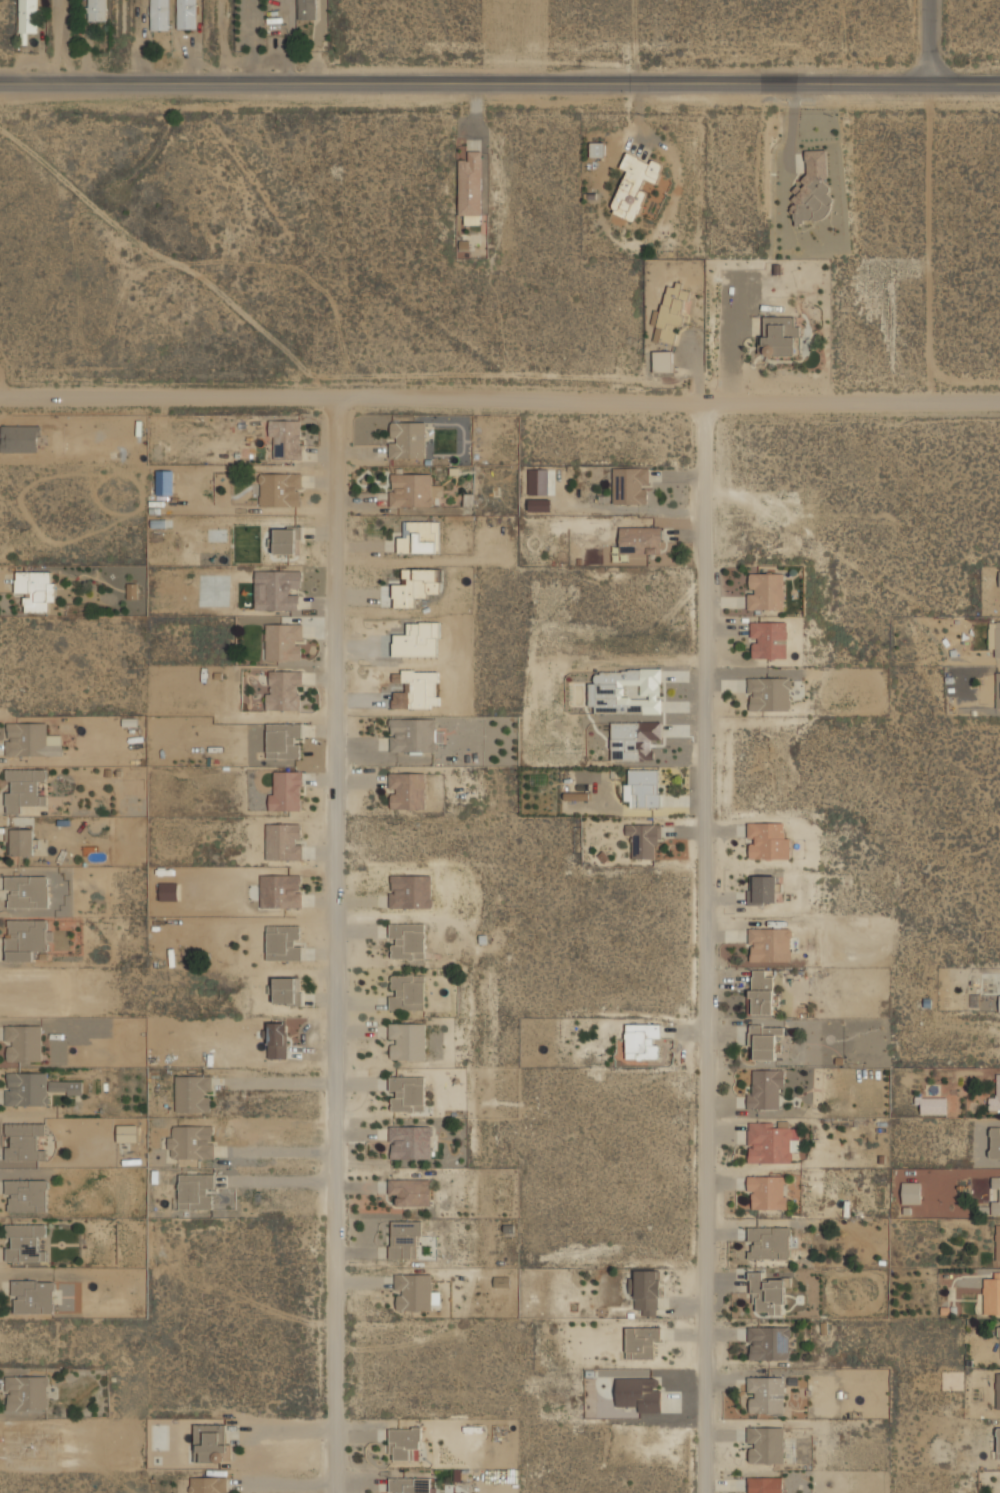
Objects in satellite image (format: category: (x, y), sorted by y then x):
building: (307, 9)
building: (96, 10)
building: (160, 14)
building: (186, 14)
building: (28, 16)
road: (59, 41)
road: (929, 42)
road: (499, 83)
building: (597, 149)
building: (634, 184)
building: (471, 187)
building: (813, 188)
road: (930, 242)
building: (464, 244)
building: (672, 312)
building: (780, 335)
building: (663, 360)
road: (500, 400)
building: (286, 439)
building: (407, 439)
building: (164, 482)
building: (630, 484)
building: (281, 488)
building: (412, 488)
building: (468, 498)
building: (420, 536)
building: (287, 539)
building: (640, 539)
building: (999, 578)
building: (416, 585)
building: (35, 588)
building: (278, 589)
building: (766, 591)
building: (995, 638)
building: (769, 639)
building: (284, 641)
building: (284, 689)
building: (998, 689)
building: (626, 690)
building: (769, 693)
building: (414, 733)
building: (634, 738)
building: (30, 739)
building: (284, 740)
building: (292, 777)
building: (645, 787)
building: (407, 789)
building: (26, 790)
building: (644, 840)
building: (768, 840)
building: (22, 841)
building: (283, 842)
building: (765, 888)
building: (411, 890)
building: (28, 891)
building: (168, 891)
building: (280, 891)
building: (26, 938)
building: (407, 940)
building: (283, 942)
building: (770, 944)
road: (332, 946)
road: (704, 948)
building: (287, 991)
building: (764, 991)
building: (407, 992)
building: (277, 1040)
building: (407, 1040)
building: (643, 1041)
building: (24, 1042)
building: (766, 1042)
road: (274, 1081)
building: (36, 1087)
building: (766, 1089)
building: (193, 1092)
building: (407, 1092)
building: (995, 1097)
building: (933, 1105)
building: (127, 1133)
building: (23, 1140)
building: (190, 1141)
building: (411, 1141)
building: (772, 1141)
building: (994, 1142)
road: (276, 1150)
road: (276, 1180)
building: (196, 1191)
building: (411, 1191)
building: (767, 1192)
building: (911, 1192)
building: (26, 1194)
building: (996, 1195)
building: (404, 1240)
building: (24, 1242)
building: (769, 1242)
building: (997, 1243)
building: (414, 1291)
building: (647, 1292)
building: (767, 1292)
building: (991, 1295)
building: (32, 1296)
building: (999, 1331)
building: (641, 1342)
building: (770, 1342)
building: (997, 1390)
building: (26, 1393)
building: (639, 1393)
building: (766, 1395)
building: (998, 1442)
building: (211, 1443)
building: (405, 1443)
building: (766, 1444)
building: (209, 1484)
building: (766, 1484)
building: (410, 1485)

